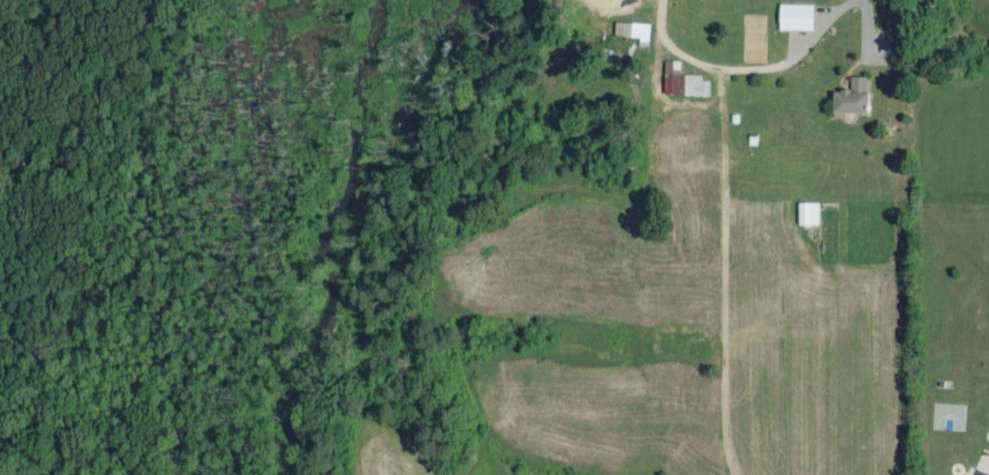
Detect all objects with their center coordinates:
building: (796, 13)
building: (633, 27)
road: (745, 65)
building: (682, 77)
building: (852, 93)
building: (808, 210)

